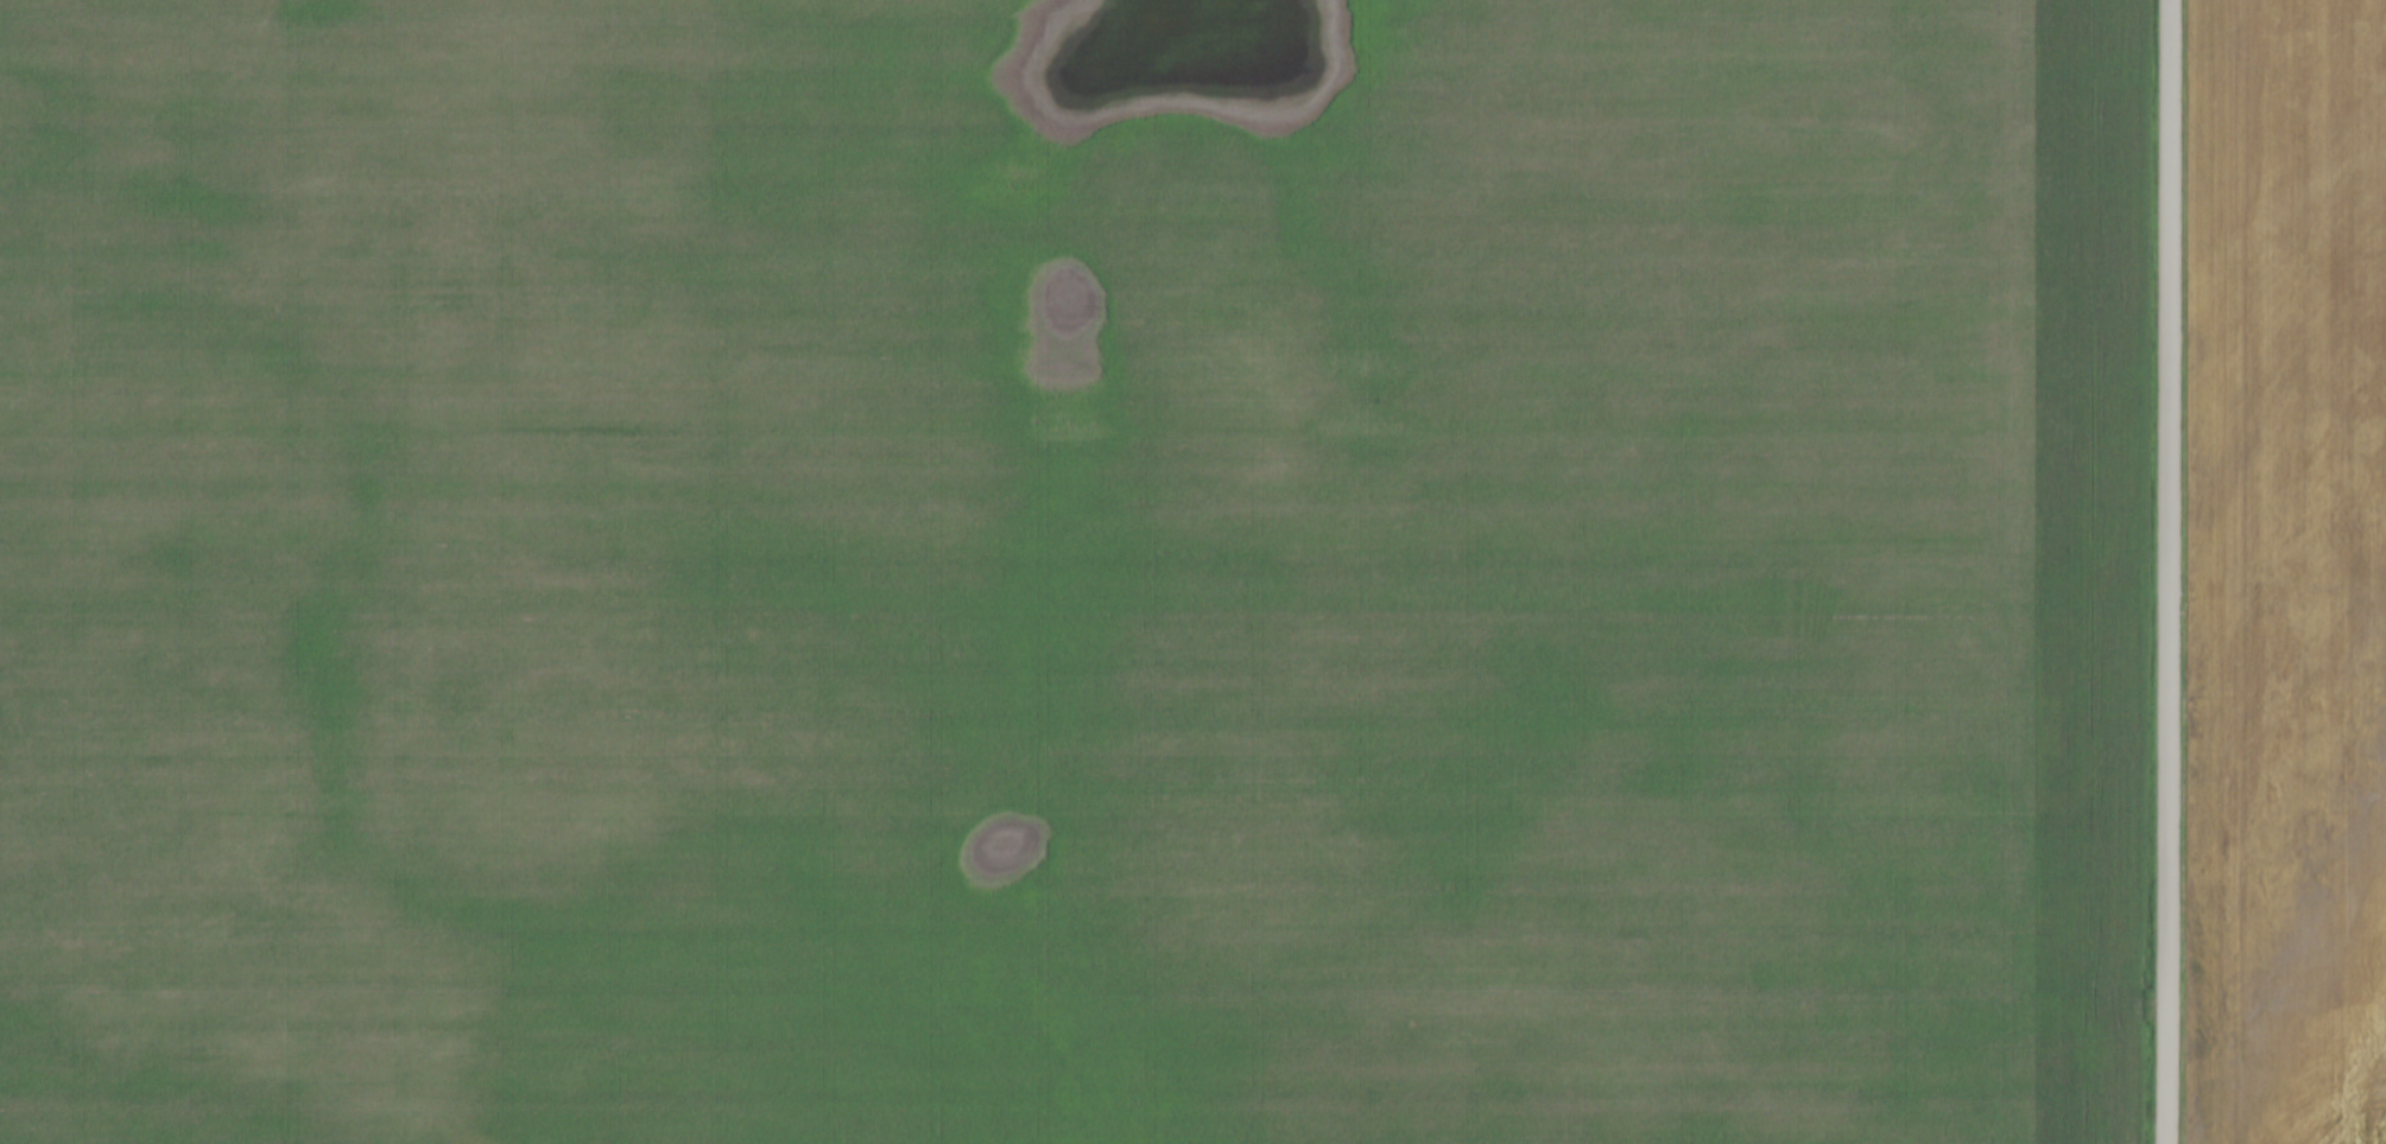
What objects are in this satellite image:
road: (2167, 572)

